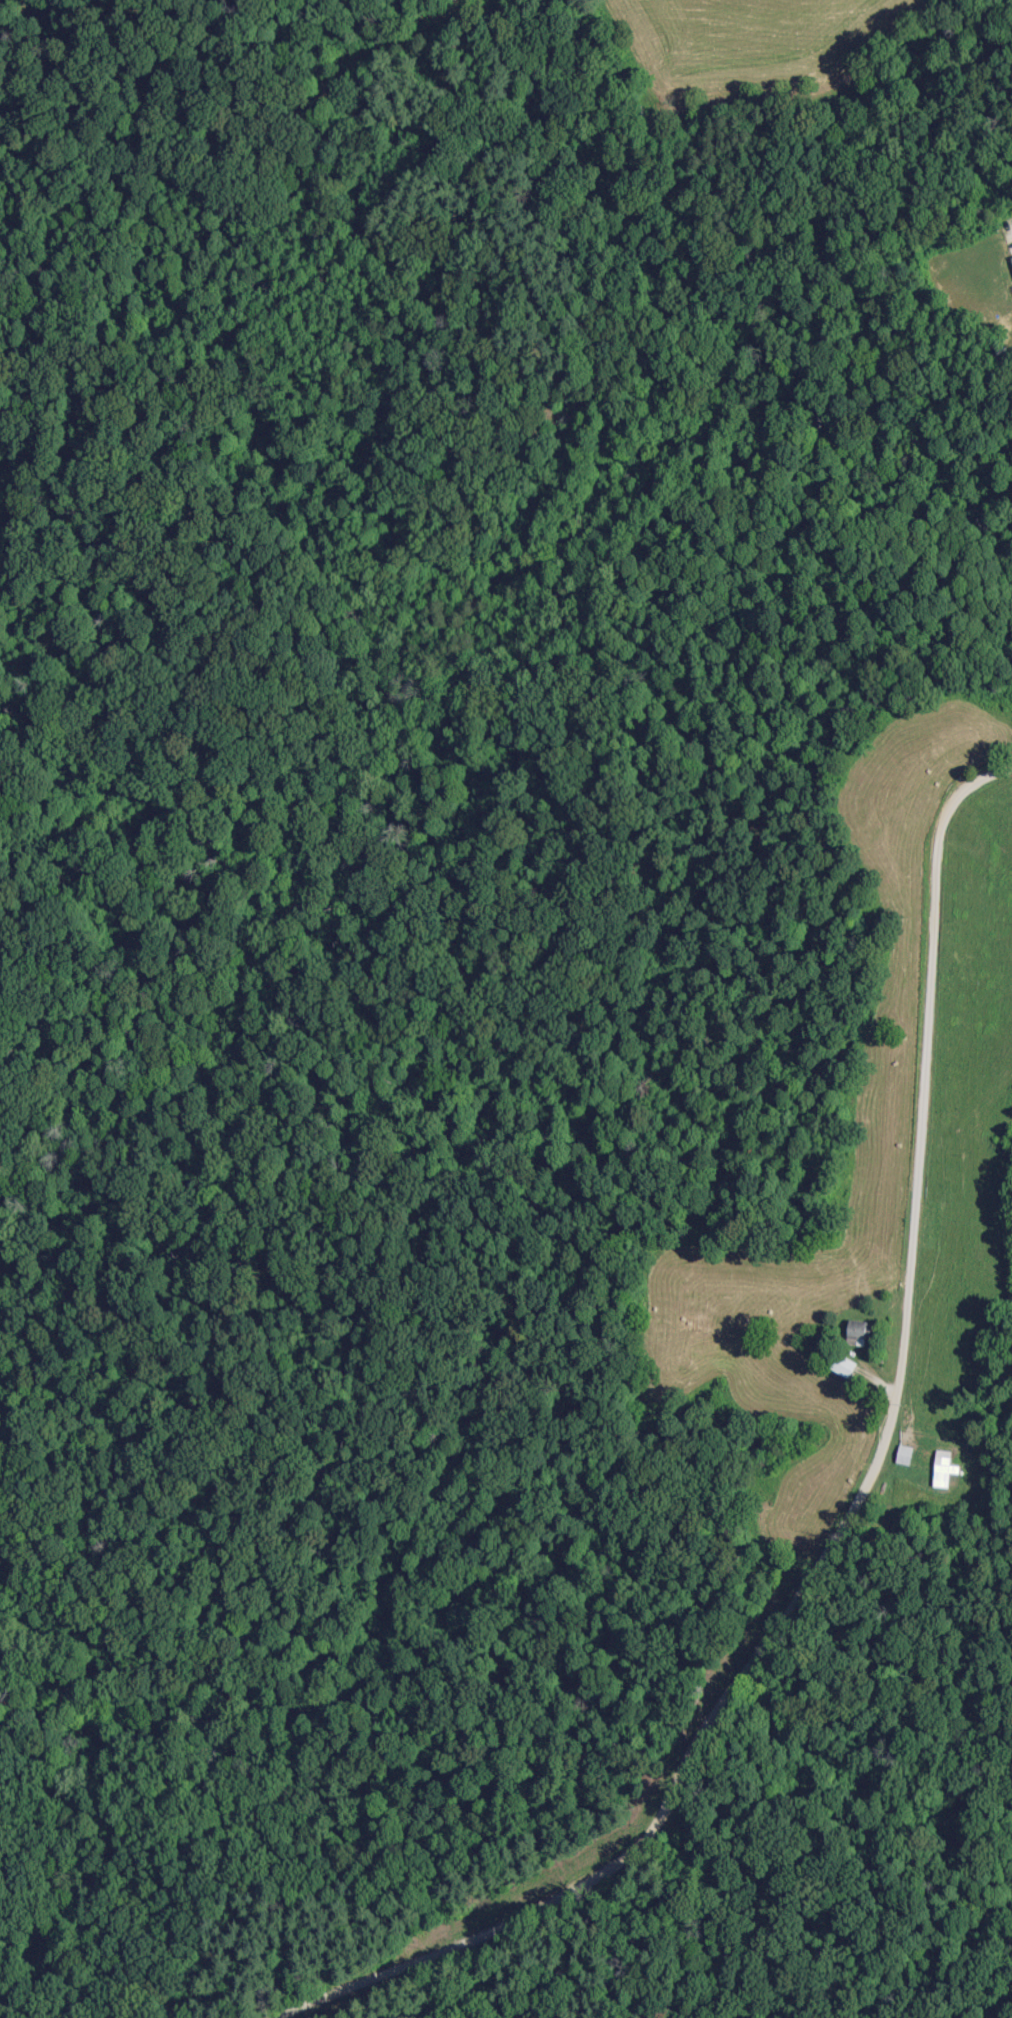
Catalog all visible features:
building: (858, 1331)
building: (843, 1364)
building: (904, 1453)
building: (942, 1467)
road: (865, 1478)

